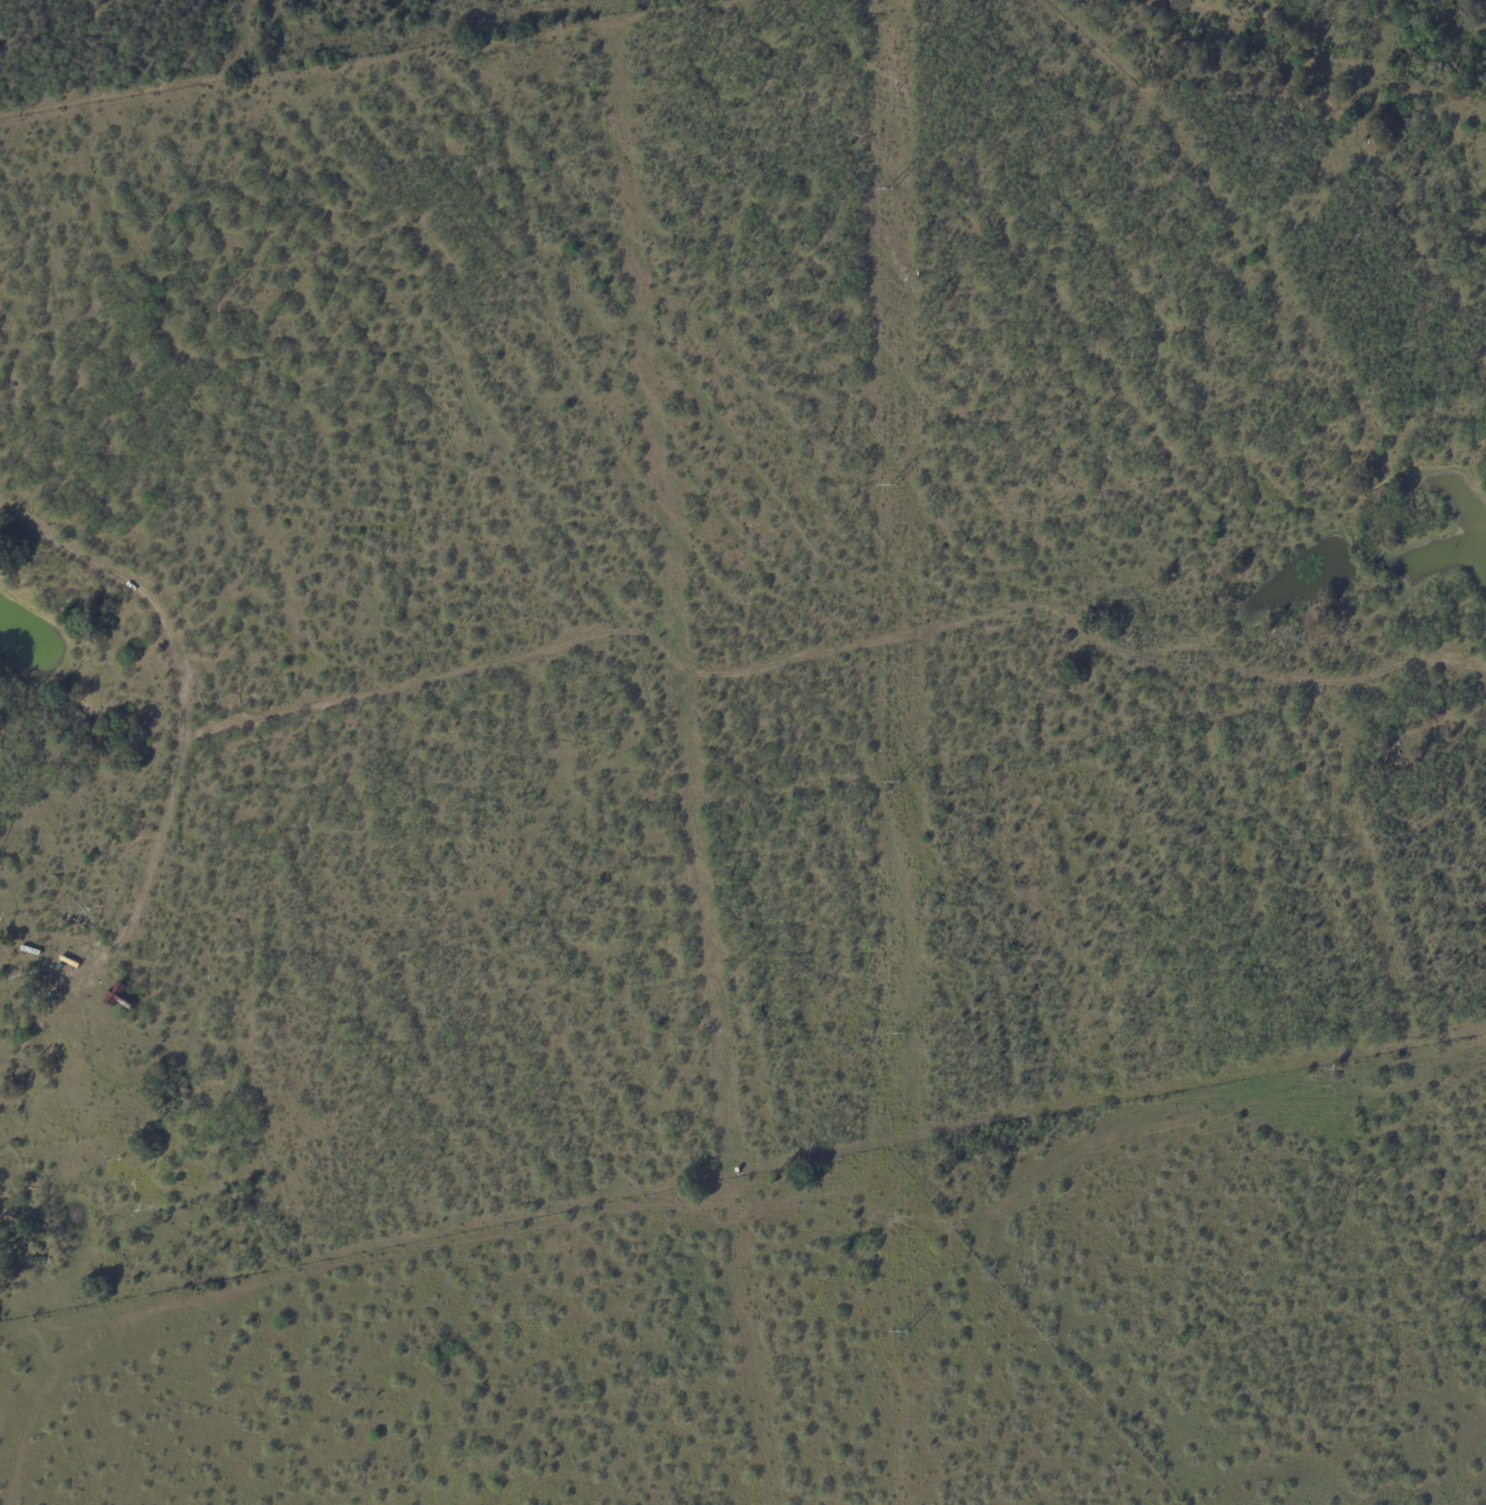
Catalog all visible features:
power tower: (889, 189)
power tower: (893, 485)
power tower: (896, 783)
power tower: (899, 1034)
power tower: (904, 1332)

